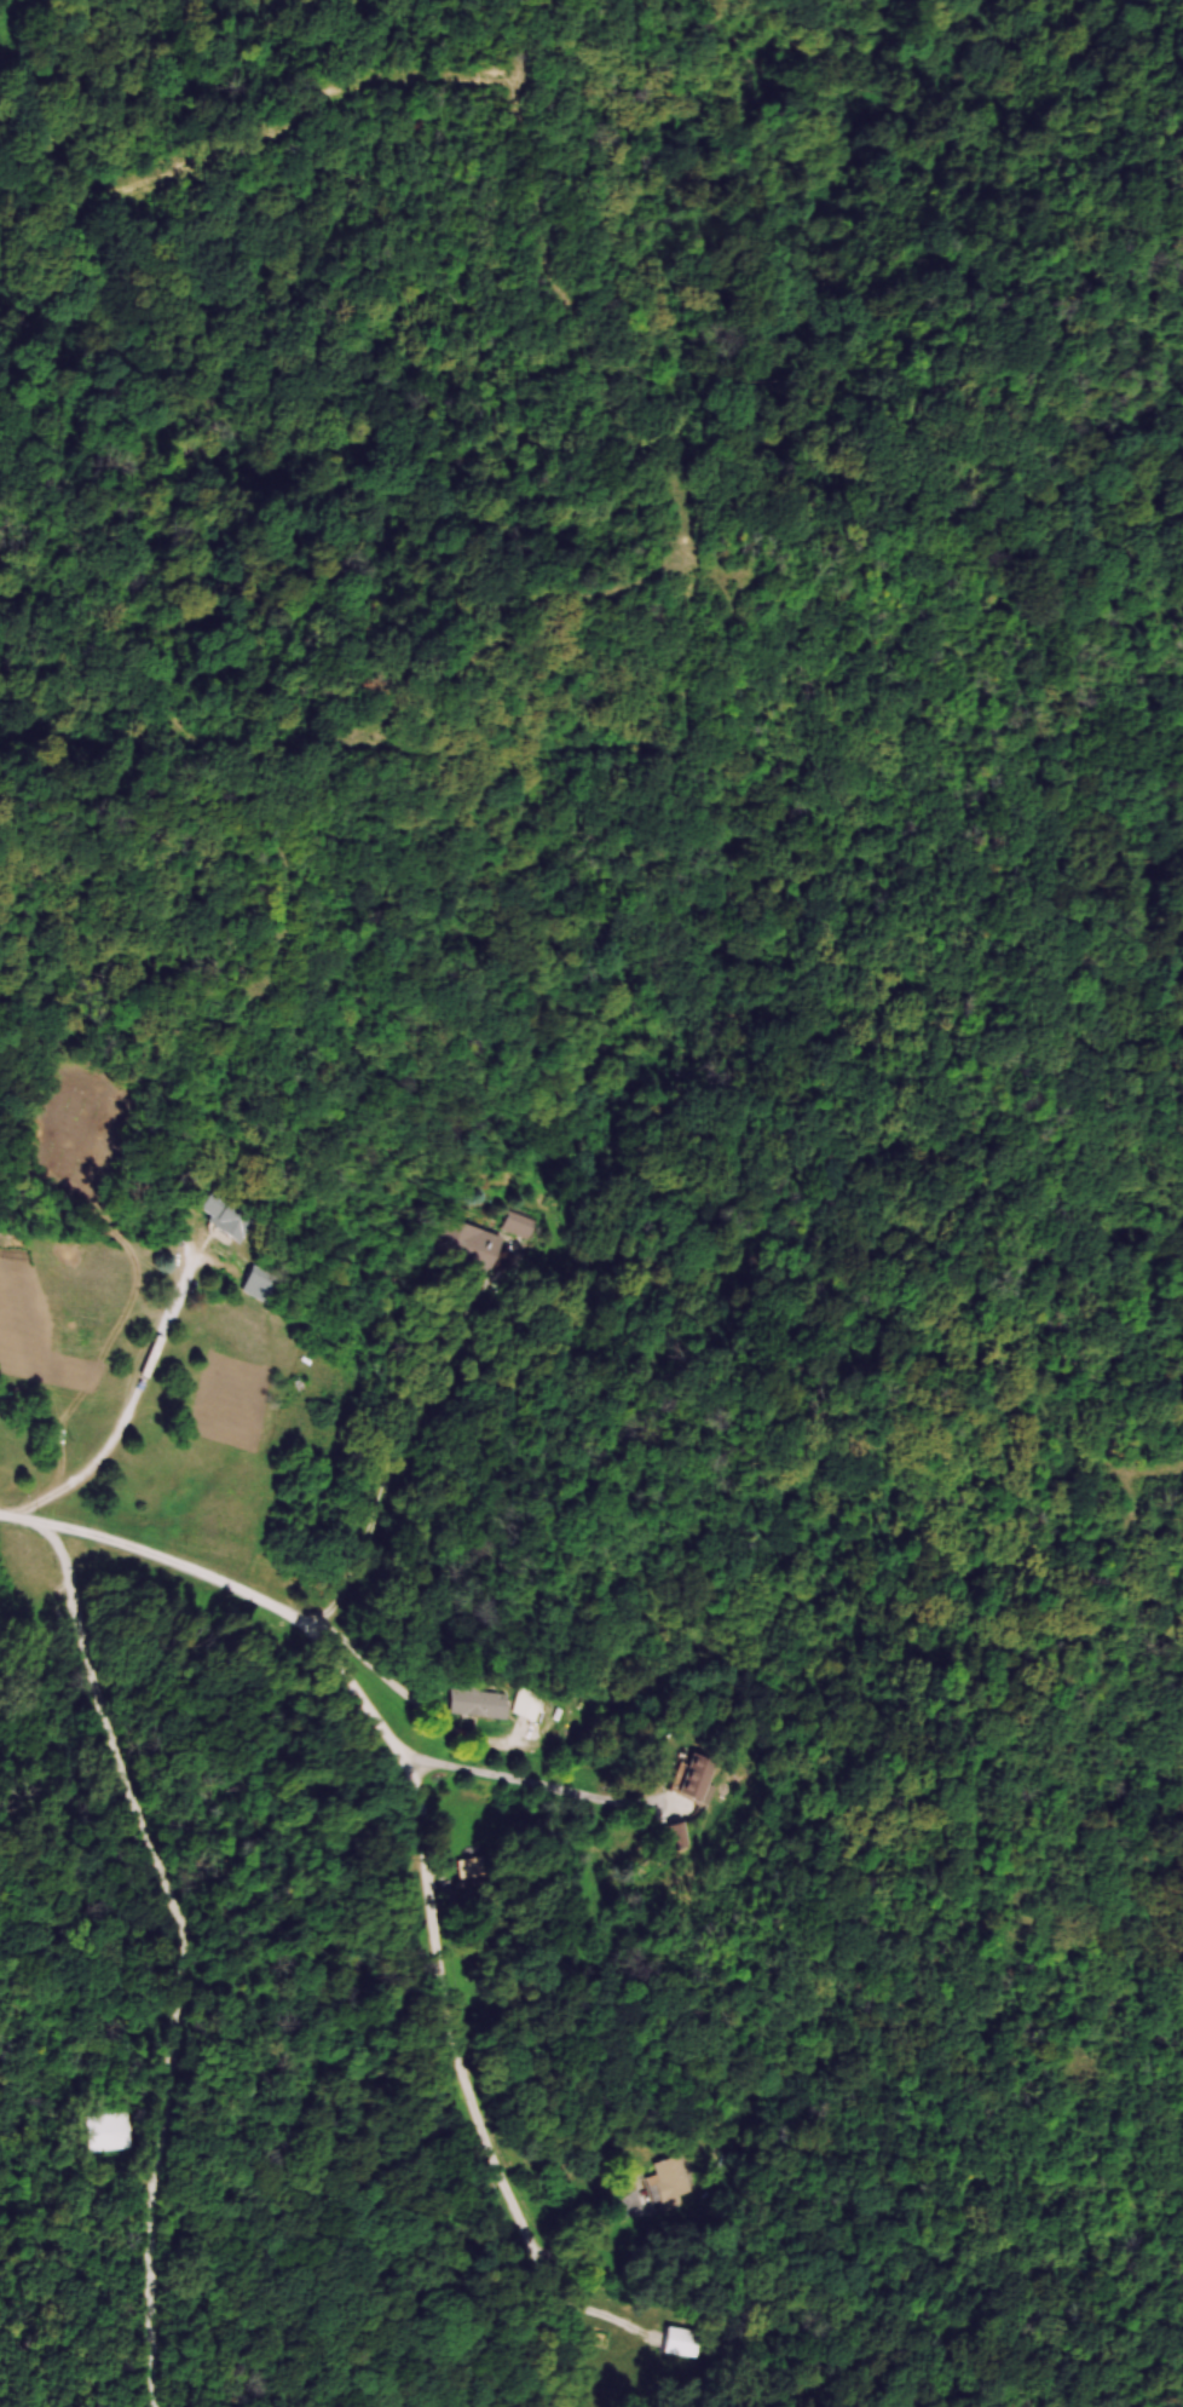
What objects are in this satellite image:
road: (125, 1403)
road: (415, 1439)
road: (420, 1703)
road: (539, 1780)
road: (437, 1842)
road: (191, 1951)

